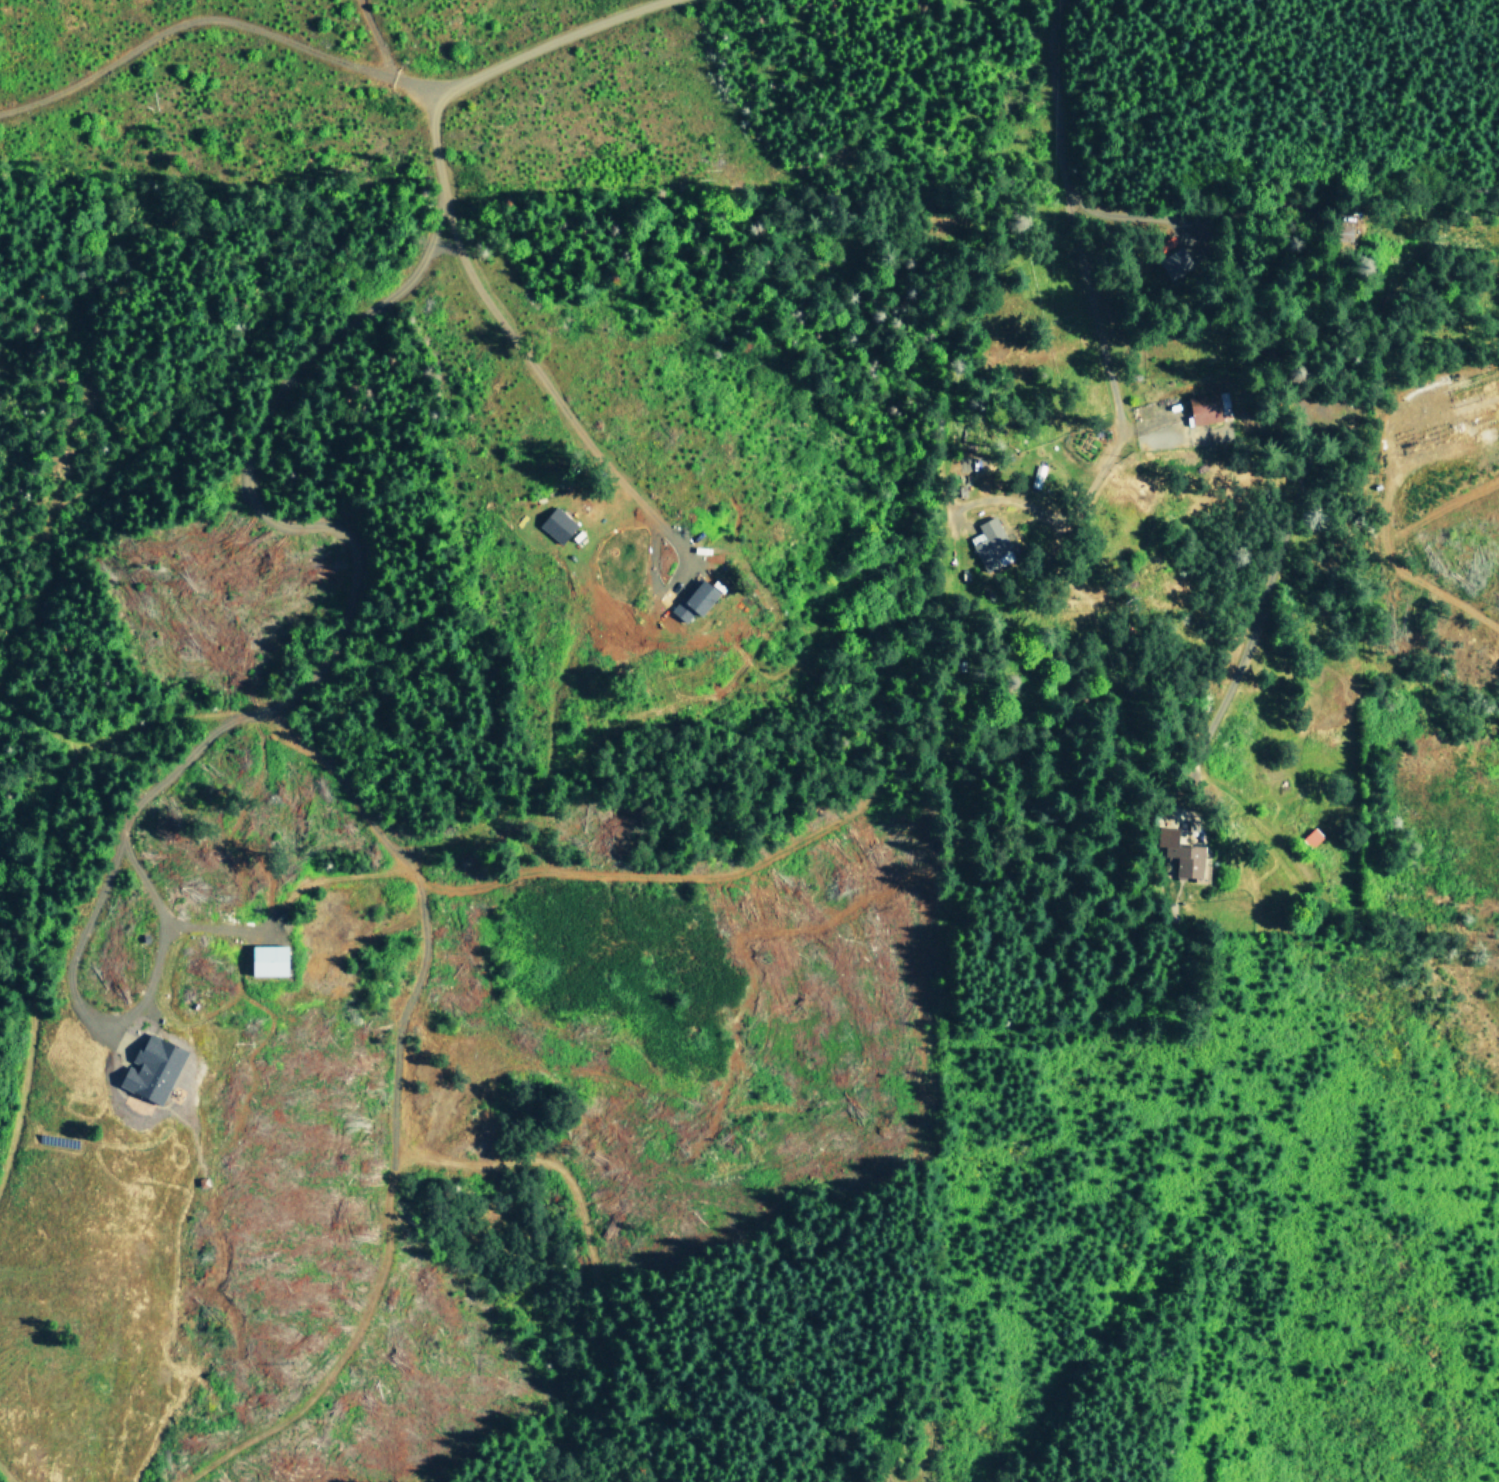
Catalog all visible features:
road: (377, 40)
road: (317, 57)
road: (1141, 214)
building: (1174, 262)
road: (1081, 271)
road: (514, 356)
building: (1209, 406)
building: (558, 524)
building: (991, 545)
building: (694, 599)
road: (301, 688)
building: (1183, 856)
building: (268, 960)
building: (153, 1068)

